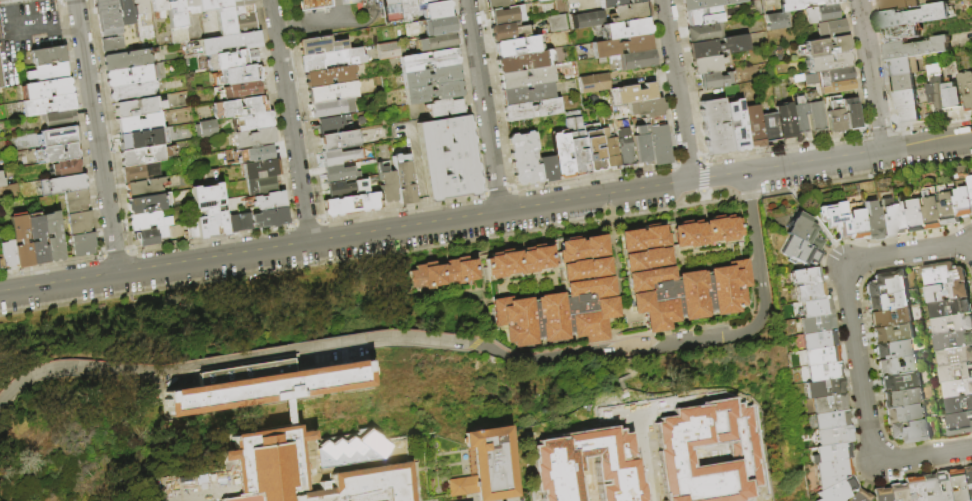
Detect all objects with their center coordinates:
building: (542, 0)
road: (12, 2)
building: (239, 2)
road: (343, 2)
building: (422, 3)
building: (616, 3)
building: (313, 4)
building: (498, 4)
building: (705, 4)
building: (803, 4)
building: (191, 5)
building: (896, 5)
building: (159, 7)
building: (141, 8)
building: (242, 9)
building: (391, 10)
building: (407, 10)
building: (436, 10)
building: (127, 12)
road: (345, 12)
building: (628, 12)
building: (175, 14)
building: (220, 14)
building: (820, 14)
building: (506, 15)
road: (311, 16)
building: (703, 16)
building: (913, 16)
building: (107, 17)
road: (364, 18)
building: (583, 19)
building: (776, 20)
road: (322, 23)
building: (557, 23)
building: (245, 24)
building: (439, 26)
road: (70, 28)
road: (287, 28)
building: (834, 29)
building: (624, 30)
building: (507, 32)
building: (703, 33)
road: (24, 34)
building: (900, 34)
building: (179, 35)
building: (436, 42)
building: (230, 43)
building: (113, 46)
building: (319, 46)
building: (517, 46)
building: (824, 46)
building: (619, 47)
building: (717, 47)
building: (918, 48)
building: (387, 51)
building: (47, 55)
building: (126, 60)
building: (232, 60)
building: (331, 60)
building: (429, 60)
building: (634, 61)
building: (523, 62)
building: (826, 62)
building: (706, 65)
building: (904, 66)
building: (49, 72)
building: (158, 72)
building: (240, 75)
building: (431, 76)
road: (870, 76)
building: (329, 77)
building: (526, 78)
building: (797, 78)
building: (1, 79)
building: (810, 79)
building: (713, 80)
building: (839, 80)
building: (595, 82)
building: (131, 83)
building: (823, 83)
building: (902, 83)
building: (45, 89)
building: (966, 90)
building: (238, 91)
building: (433, 92)
road: (676, 92)
building: (331, 93)
building: (526, 94)
building: (630, 94)
building: (937, 95)
building: (953, 98)
building: (905, 99)
building: (48, 105)
road: (483, 107)
building: (138, 108)
building: (239, 108)
building: (330, 108)
building: (446, 108)
building: (646, 108)
building: (531, 109)
building: (851, 114)
building: (814, 115)
building: (834, 115)
building: (907, 116)
building: (799, 118)
building: (59, 119)
building: (254, 122)
road: (289, 122)
building: (785, 122)
building: (140, 123)
building: (330, 125)
building: (737, 125)
building: (753, 126)
building: (713, 127)
building: (770, 128)
building: (207, 129)
building: (59, 136)
road: (95, 138)
building: (255, 138)
building: (144, 139)
building: (338, 141)
building: (657, 141)
building: (576, 144)
building: (640, 145)
road: (927, 145)
building: (592, 147)
building: (624, 147)
building: (608, 150)
building: (56, 153)
building: (257, 154)
building: (562, 155)
building: (145, 156)
building: (338, 157)
building: (448, 158)
building: (523, 158)
building: (66, 168)
building: (547, 168)
building: (261, 169)
building: (141, 172)
building: (385, 172)
building: (337, 173)
building: (402, 179)
building: (1, 182)
road: (691, 183)
building: (62, 185)
building: (262, 186)
building: (144, 188)
building: (345, 189)
building: (76, 202)
building: (267, 202)
building: (965, 202)
building: (146, 205)
building: (349, 205)
building: (951, 206)
building: (935, 210)
building: (207, 213)
building: (903, 216)
building: (918, 216)
road: (811, 217)
building: (270, 218)
building: (835, 218)
building: (888, 219)
building: (148, 221)
building: (871, 222)
building: (79, 223)
building: (238, 223)
building: (856, 225)
building: (804, 232)
building: (52, 237)
building: (150, 237)
building: (37, 240)
building: (20, 242)
building: (83, 244)
building: (800, 252)
road: (907, 253)
building: (8, 254)
road: (250, 255)
building: (519, 261)
building: (1, 264)
building: (446, 273)
building: (681, 273)
building: (944, 274)
building: (804, 276)
building: (887, 283)
building: (808, 292)
building: (949, 292)
building: (565, 300)
building: (888, 301)
building: (813, 308)
building: (951, 308)
building: (891, 318)
building: (816, 324)
building: (952, 324)
building: (893, 334)
building: (819, 340)
building: (953, 340)
road: (688, 343)
building: (893, 350)
building: (822, 355)
building: (955, 357)
road: (228, 360)
road: (624, 360)
road: (858, 364)
building: (898, 366)
building: (824, 370)
building: (956, 373)
building: (900, 381)
building: (263, 385)
building: (825, 388)
building: (958, 389)
building: (903, 397)
building: (829, 404)
building: (959, 405)
building: (904, 414)
building: (832, 420)
building: (960, 424)
building: (910, 432)
building: (834, 436)
building: (746, 441)
park: (715, 443)
park: (683, 449)
building: (832, 453)
road: (662, 456)
road: (923, 457)
building: (483, 466)
building: (270, 468)
building: (833, 472)
road: (546, 474)
building: (970, 476)
parking lot: (552, 478)
building: (963, 485)
building: (947, 487)
road: (582, 488)
building: (930, 488)
building: (914, 489)
road: (195, 490)
building: (838, 490)
building: (716, 491)
building: (899, 492)
building: (883, 494)
road: (609, 496)
building: (860, 496)
road: (466, 497)
road: (470, 499)

